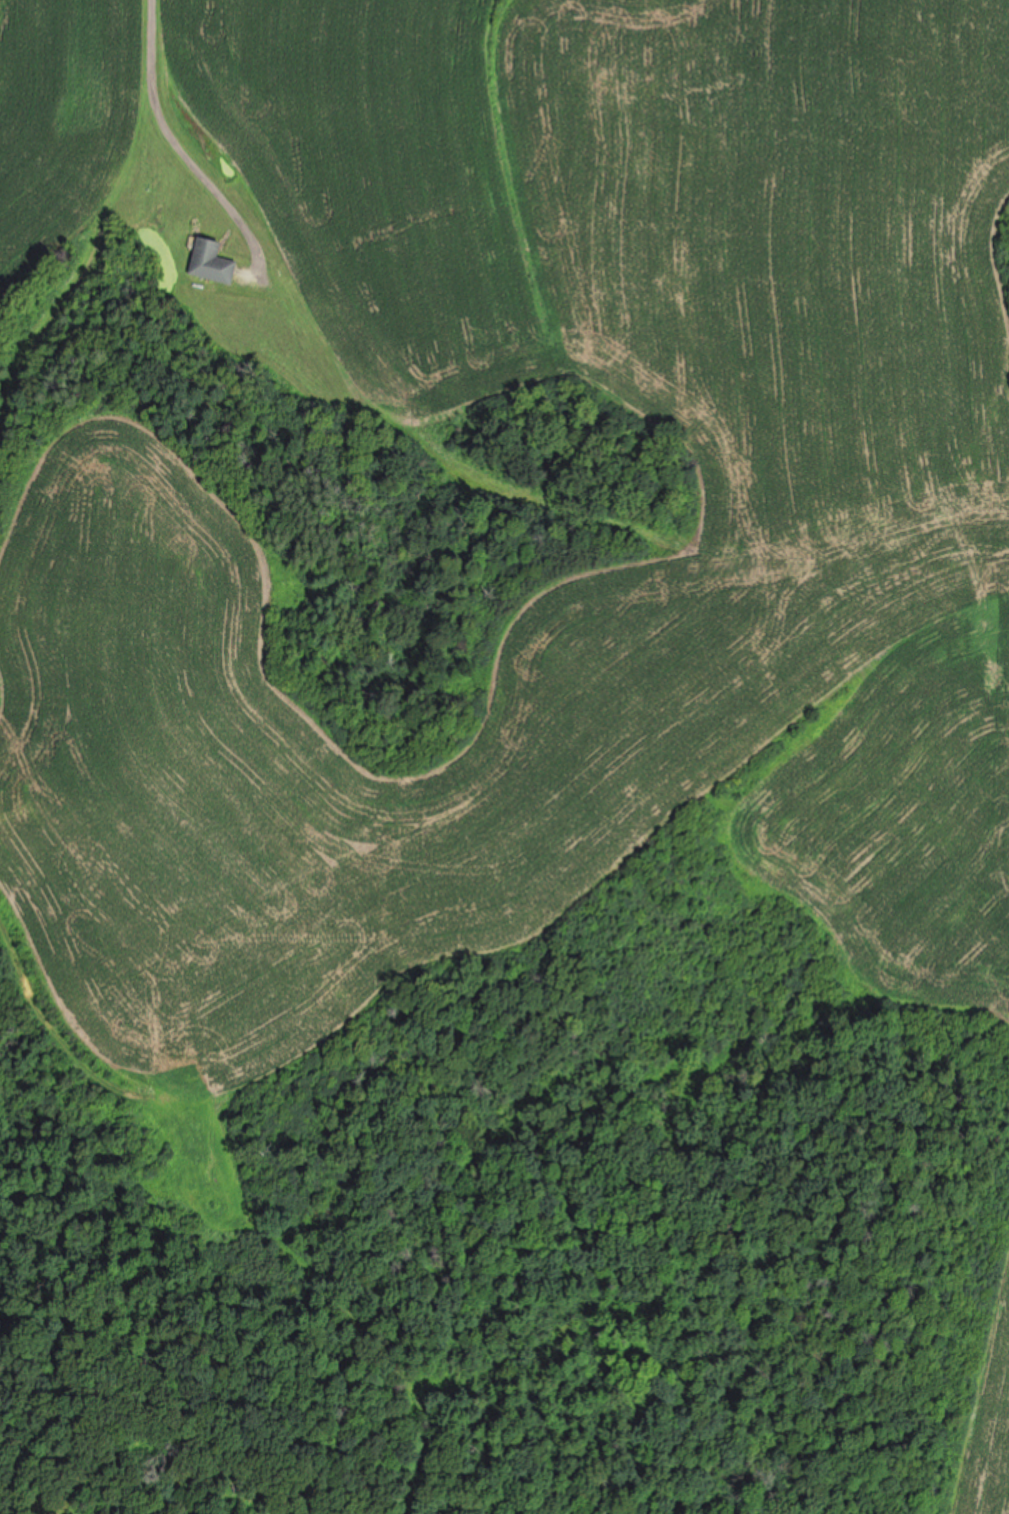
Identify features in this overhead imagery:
road: (177, 152)
building: (211, 262)

